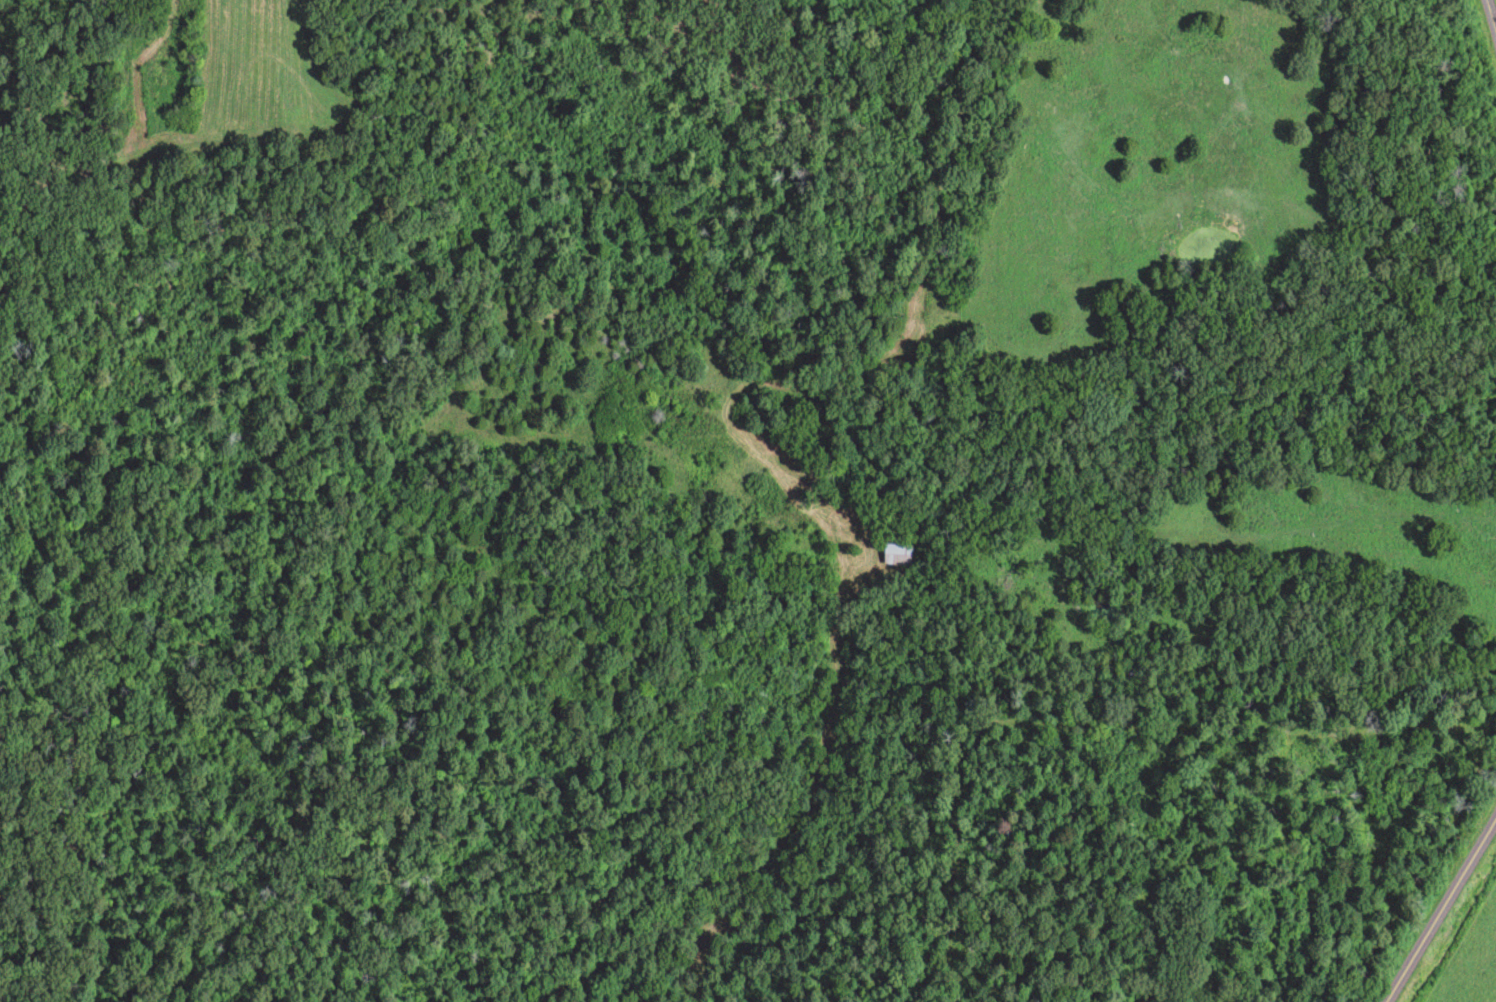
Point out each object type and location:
road: (1490, 21)
building: (896, 556)
road: (1441, 908)

